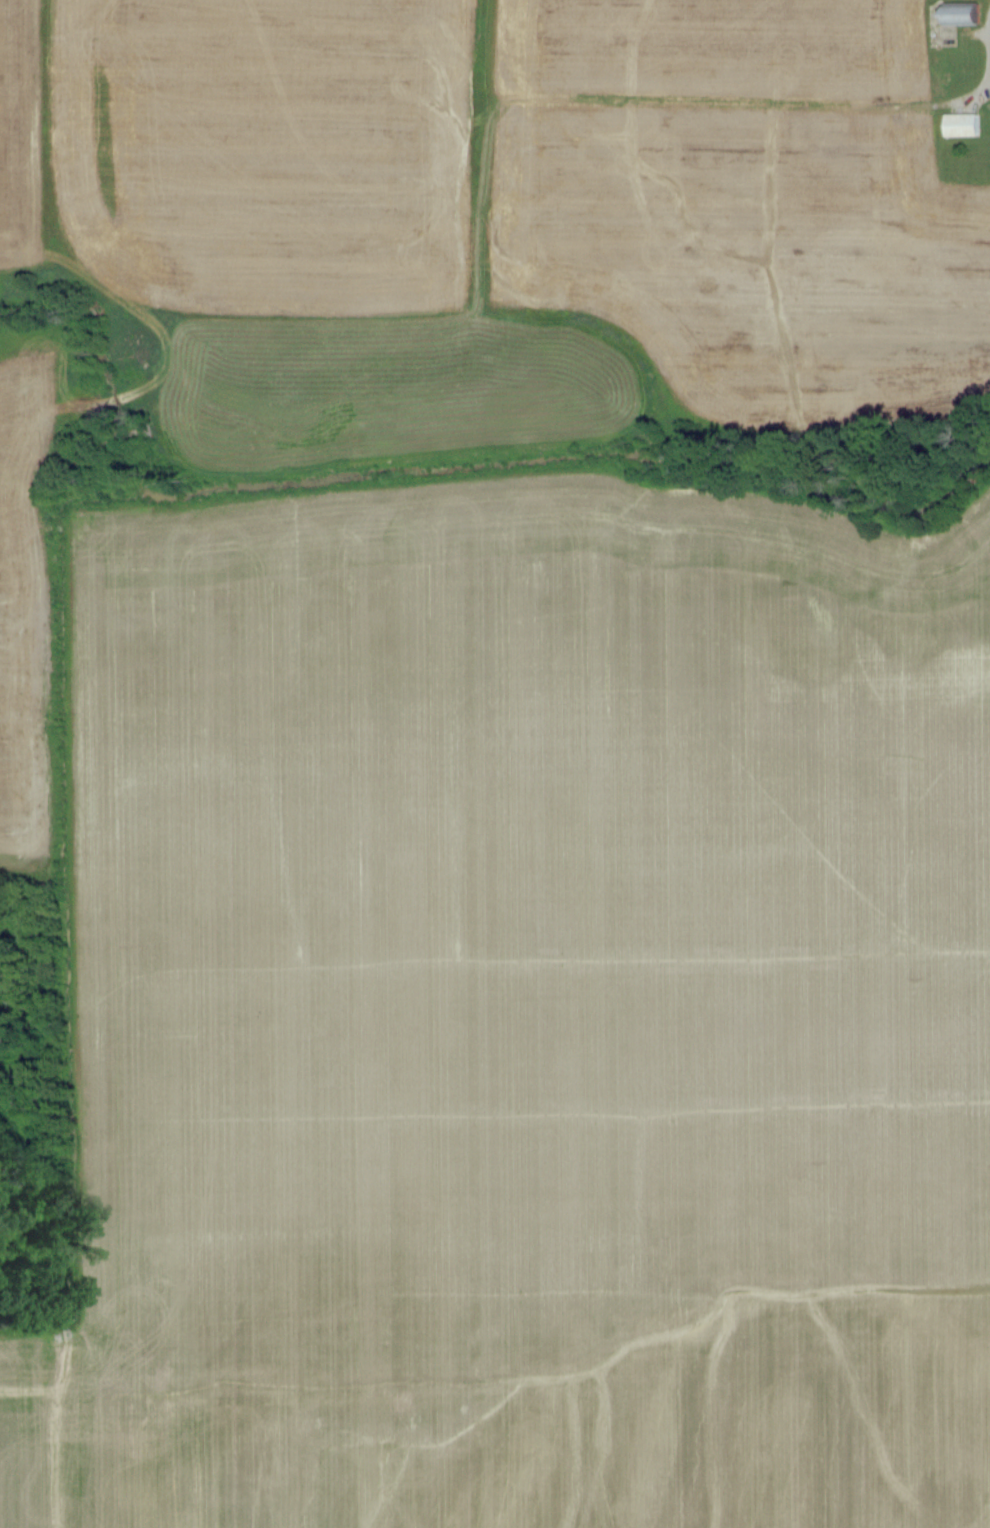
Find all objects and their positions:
building: (958, 14)
road: (989, 53)
building: (960, 124)

